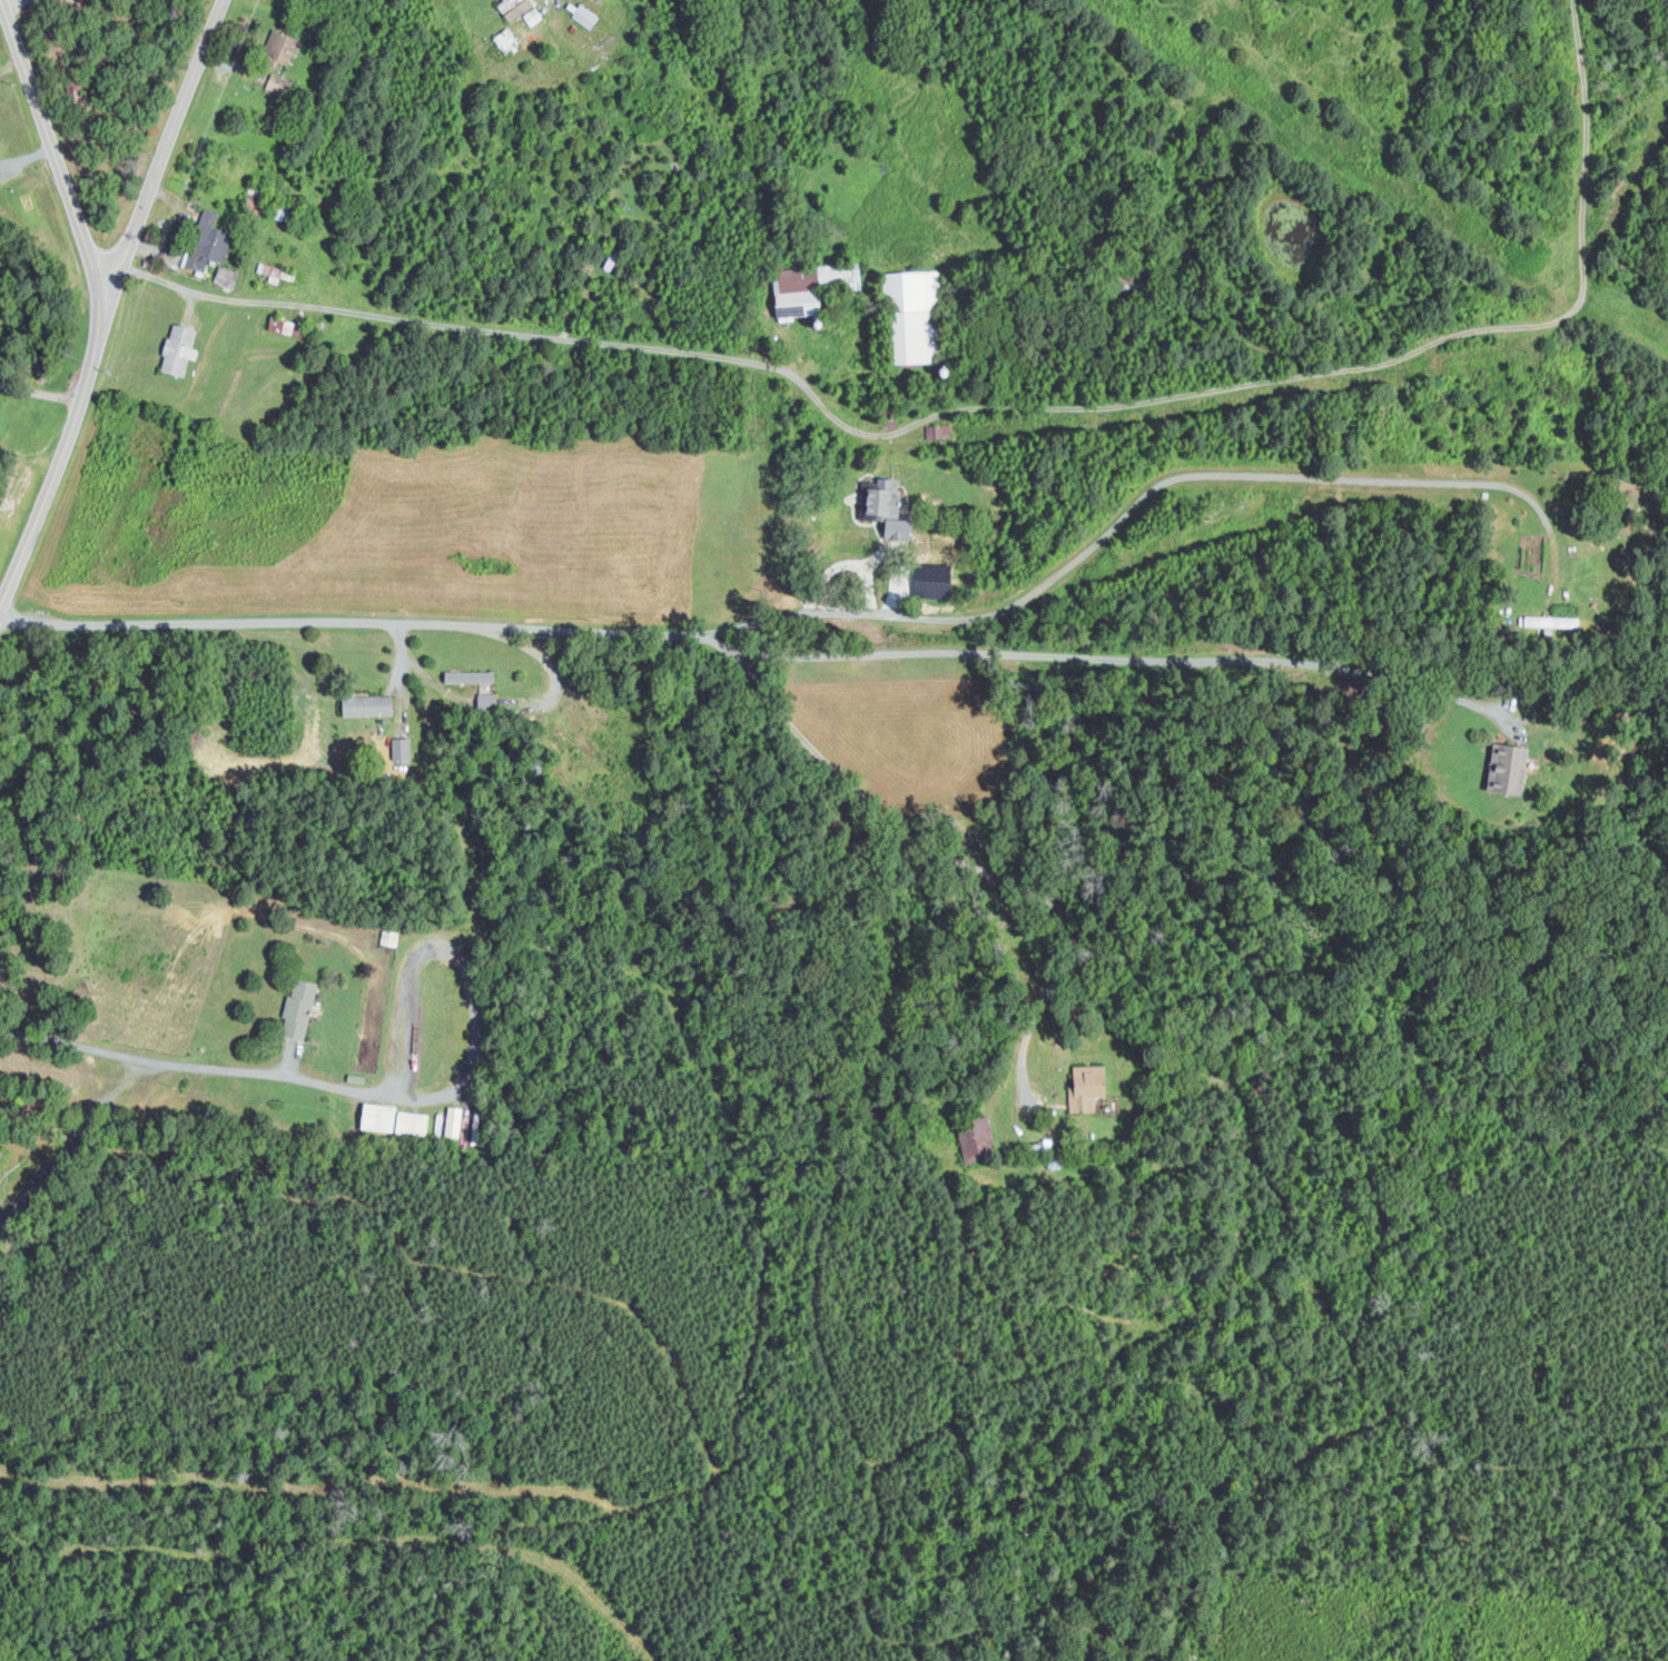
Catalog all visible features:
building: (514, 8)
building: (585, 16)
building: (506, 39)
building: (279, 47)
building: (279, 85)
road: (51, 146)
road: (165, 148)
building: (207, 241)
building: (226, 276)
building: (796, 304)
building: (912, 317)
building: (280, 325)
building: (178, 349)
road: (40, 392)
road: (991, 407)
building: (939, 431)
road: (62, 454)
building: (888, 508)
road: (1124, 516)
building: (1558, 621)
road: (346, 623)
road: (403, 658)
road: (1125, 659)
building: (470, 676)
building: (485, 703)
road: (531, 704)
building: (367, 705)
building: (401, 749)
building: (1508, 769)
road: (949, 853)
road: (458, 968)
building: (298, 1009)
road: (188, 1064)
building: (1088, 1084)
building: (378, 1118)
building: (453, 1123)
building: (412, 1124)

